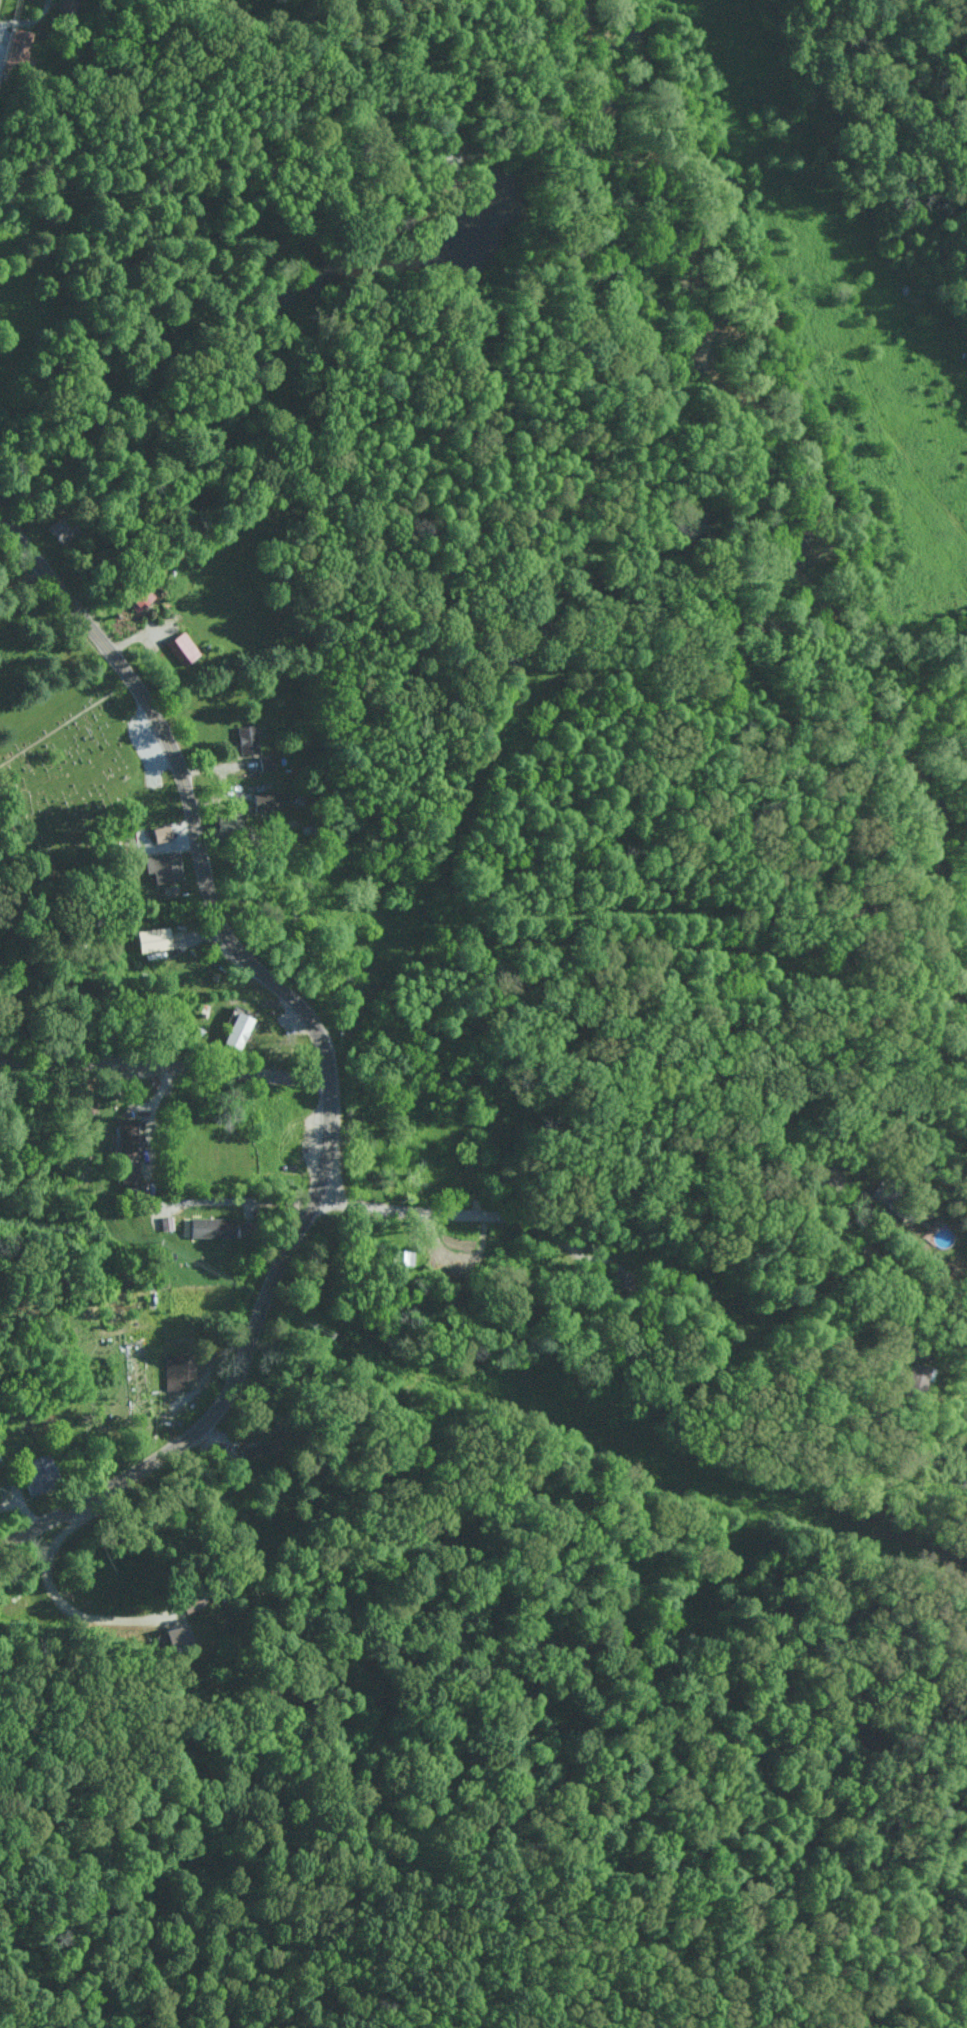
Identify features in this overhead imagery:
building: (18, 47)
building: (59, 528)
road: (22, 582)
building: (140, 598)
building: (182, 648)
building: (247, 738)
building: (266, 761)
park: (83, 777)
road: (183, 780)
building: (273, 799)
building: (163, 832)
building: (167, 867)
road: (392, 878)
road: (502, 937)
building: (156, 938)
building: (240, 1029)
road: (164, 1074)
building: (127, 1141)
road: (666, 1206)
building: (213, 1226)
road: (241, 1364)
building: (179, 1369)
building: (262, 1452)
building: (42, 1473)
road: (57, 1602)
building: (175, 1635)

